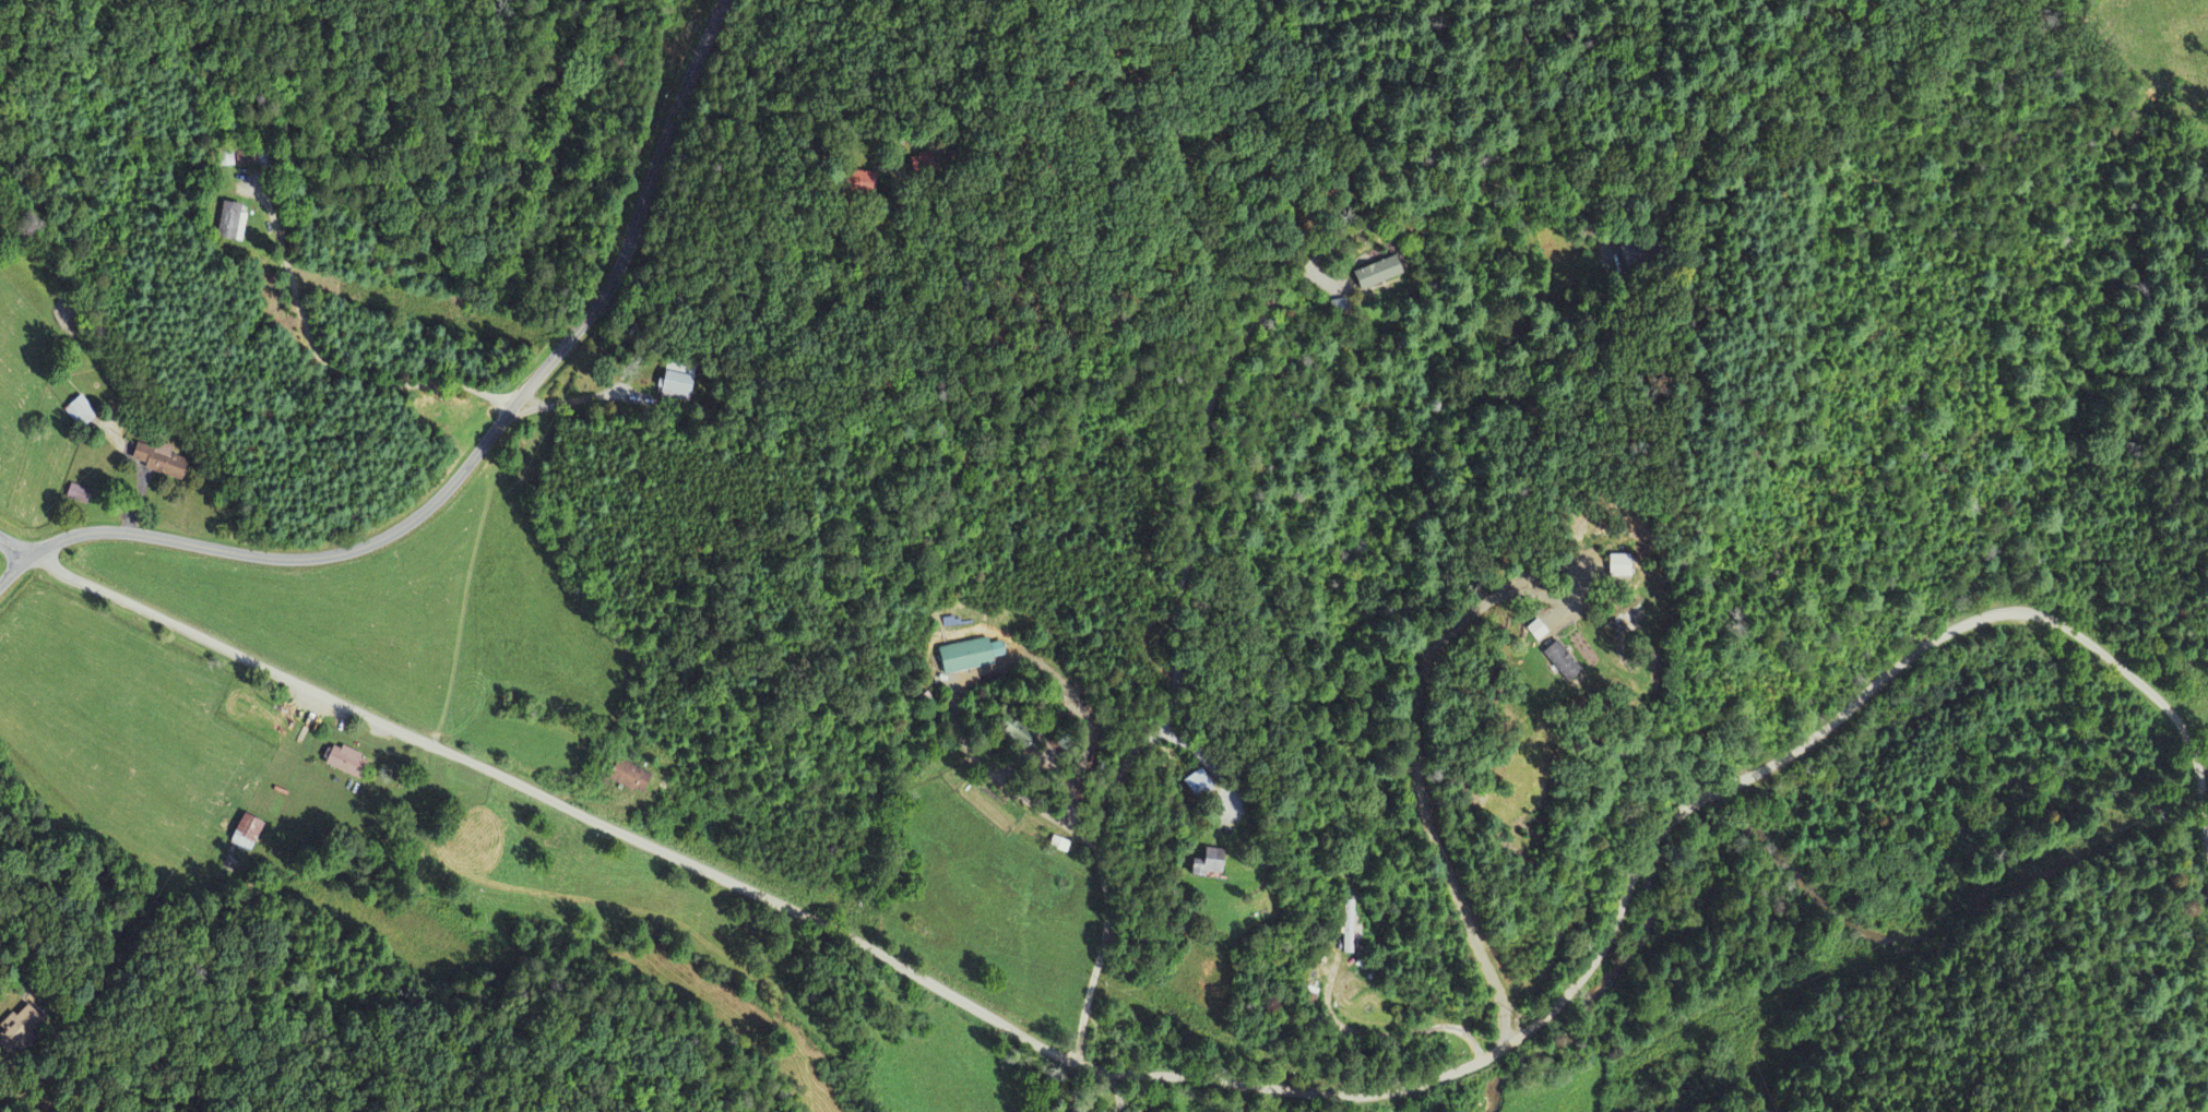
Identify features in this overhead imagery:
building: (232, 223)
building: (1377, 274)
building: (676, 387)
building: (80, 412)
road: (472, 456)
building: (161, 461)
building: (78, 494)
road: (14, 546)
building: (1618, 566)
building: (1535, 631)
building: (969, 656)
building: (1560, 661)
building: (345, 762)
building: (630, 777)
building: (245, 833)
building: (1207, 863)
building: (1349, 928)
building: (22, 1032)
road: (1223, 1080)

